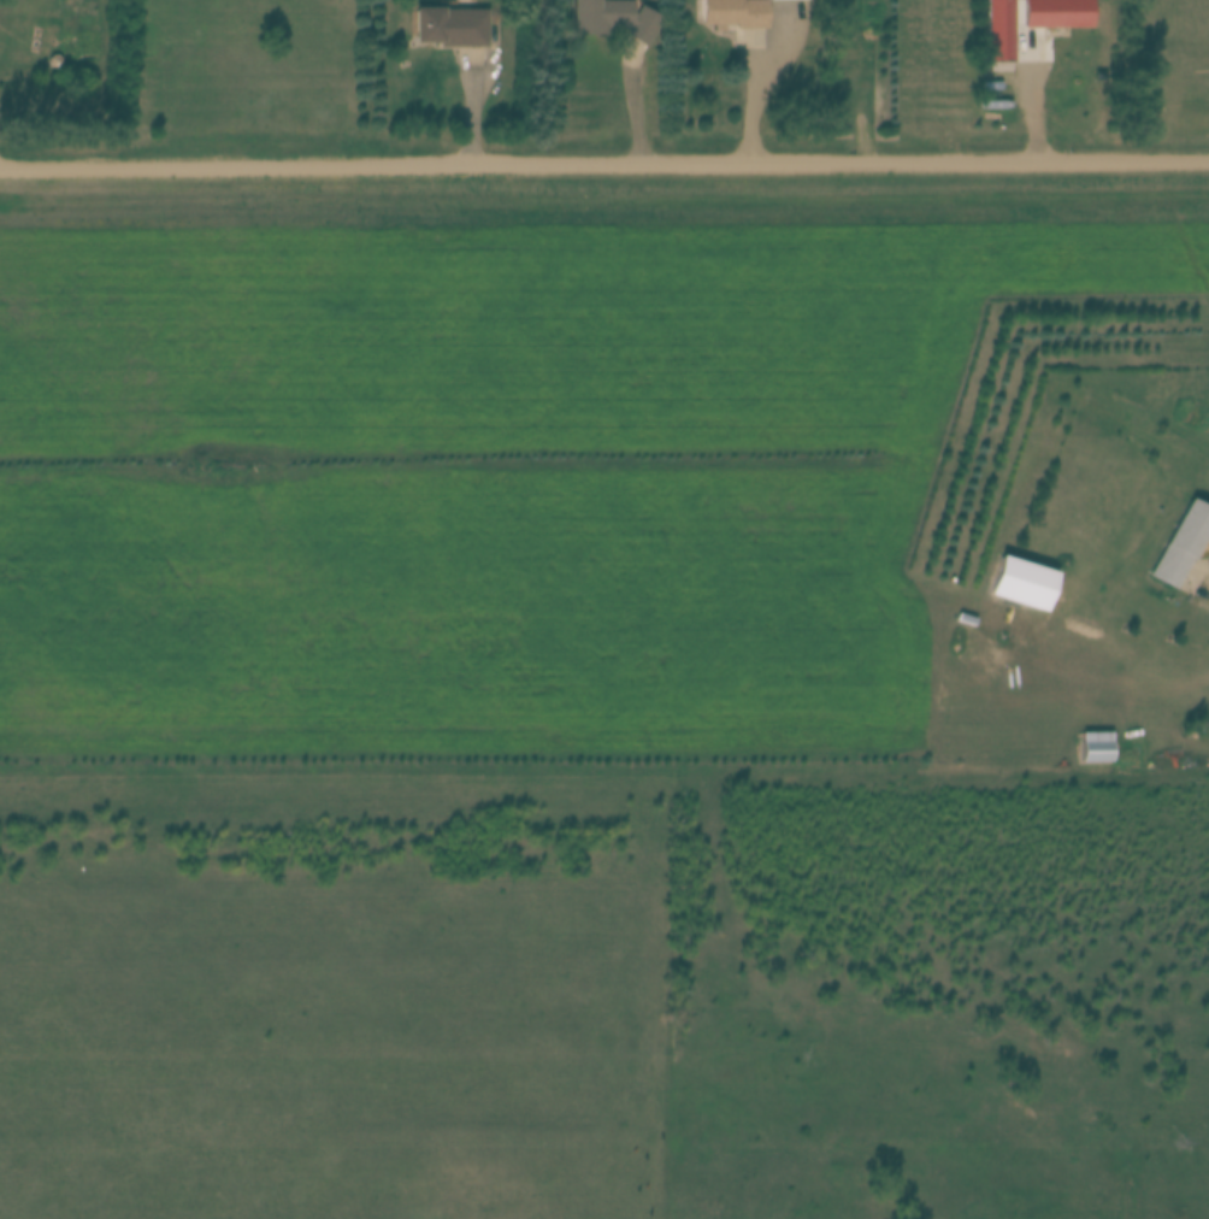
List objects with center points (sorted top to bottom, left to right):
building: (735, 12)
building: (1057, 12)
building: (614, 17)
building: (450, 25)
building: (998, 29)
road: (603, 159)
building: (1181, 542)
road: (1207, 579)
building: (1020, 583)
building: (1098, 753)

